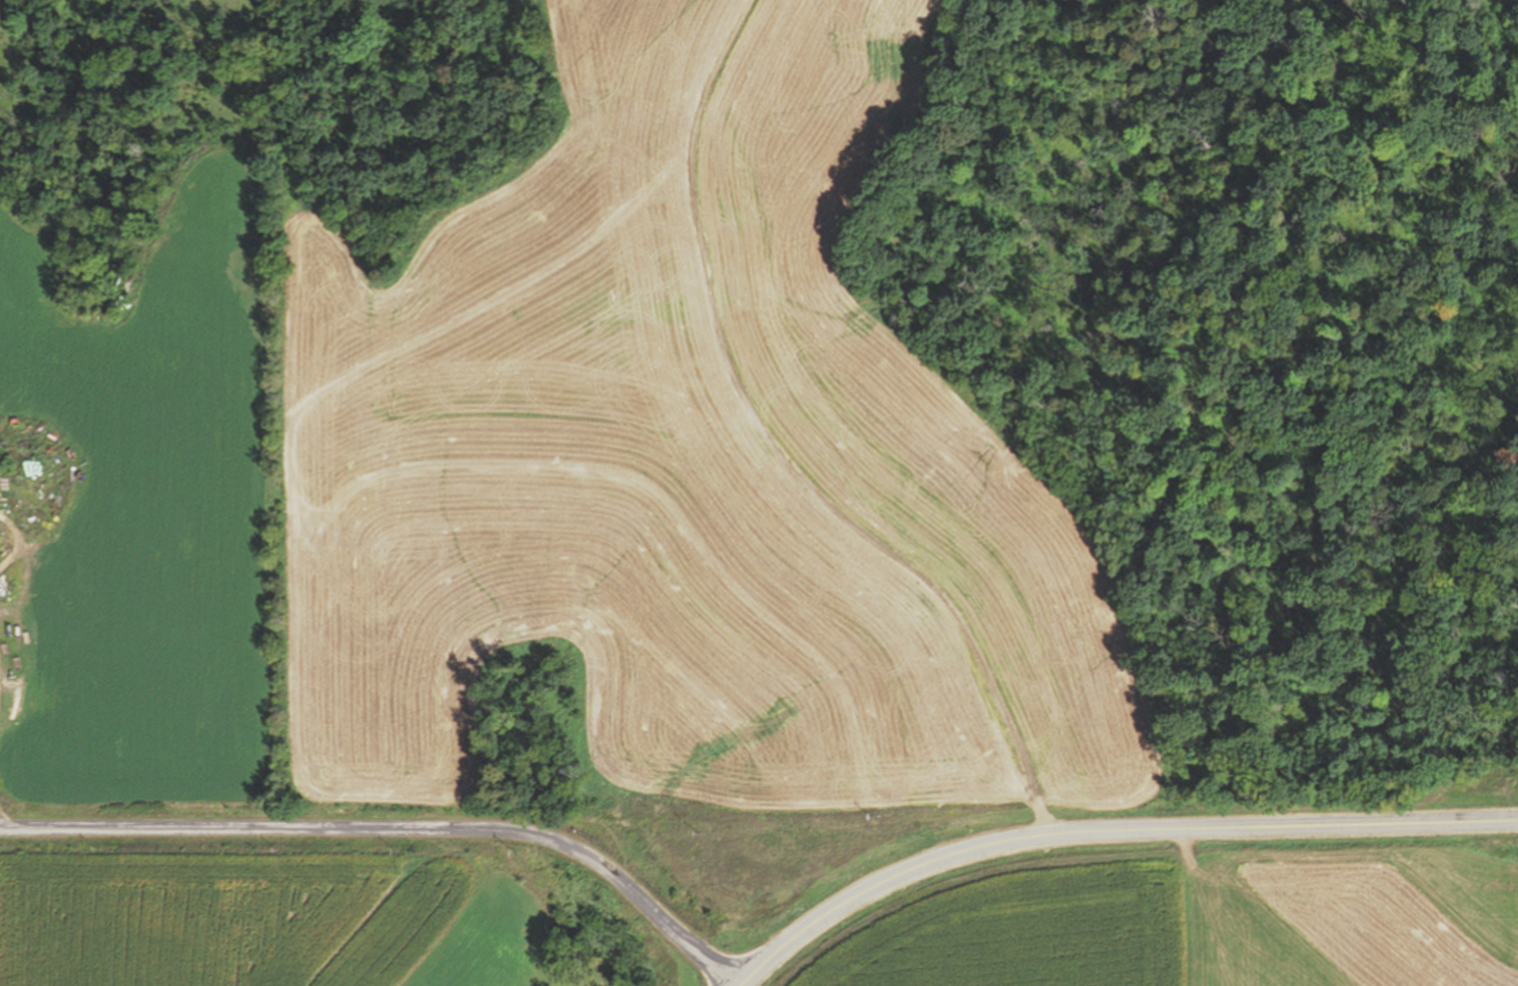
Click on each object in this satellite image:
road: (780, 450)
road: (394, 833)
road: (1108, 835)

